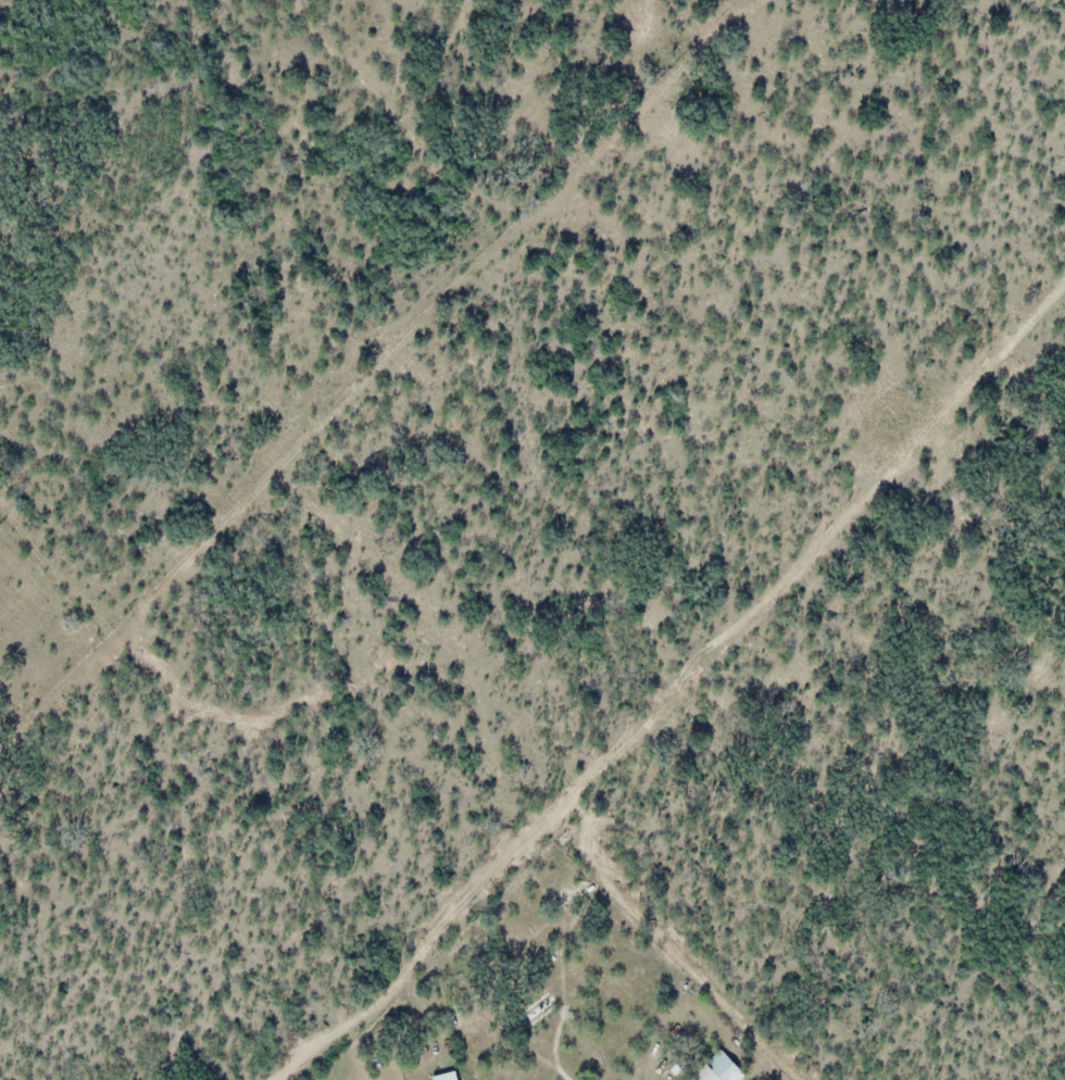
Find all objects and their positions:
building: (538, 1007)
building: (716, 1068)

